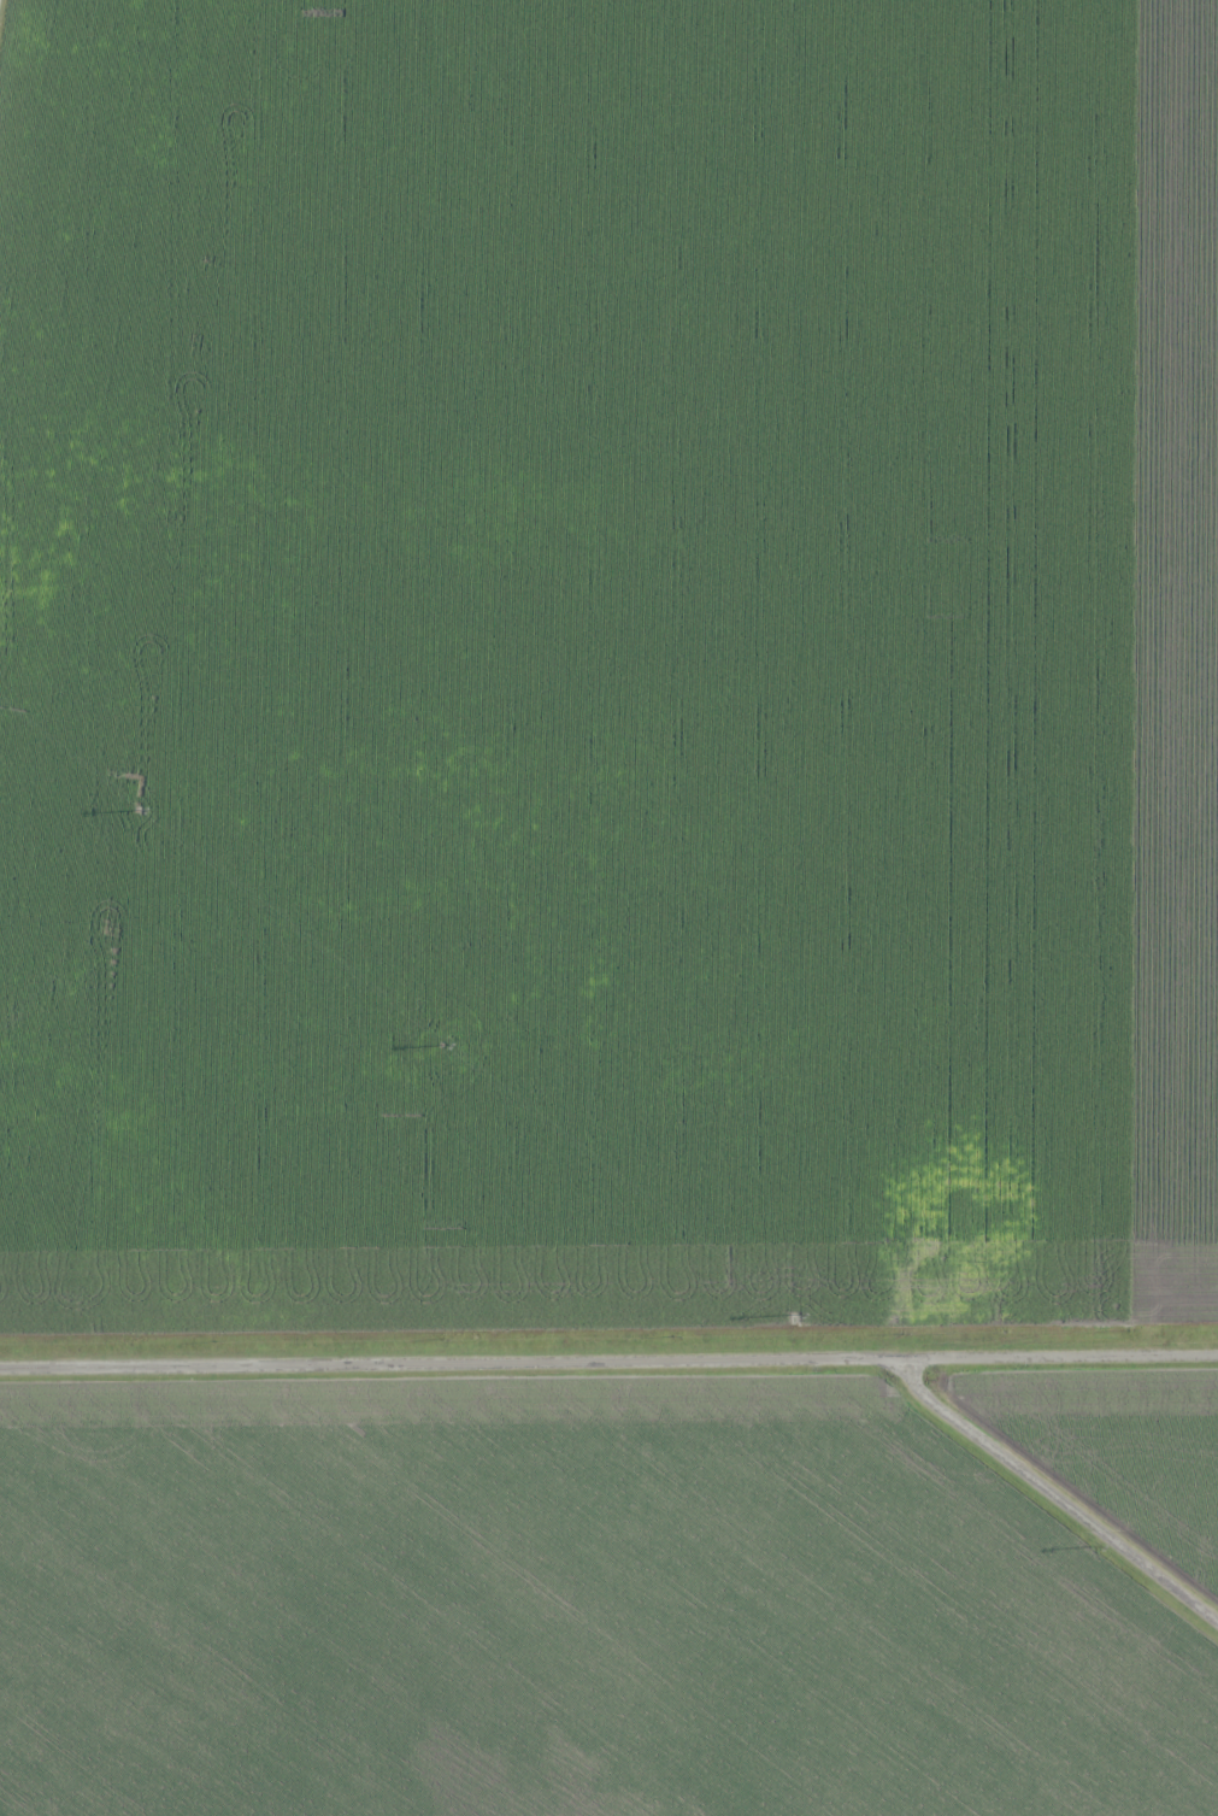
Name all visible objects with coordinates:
road: (608, 1354)
road: (1059, 1481)

